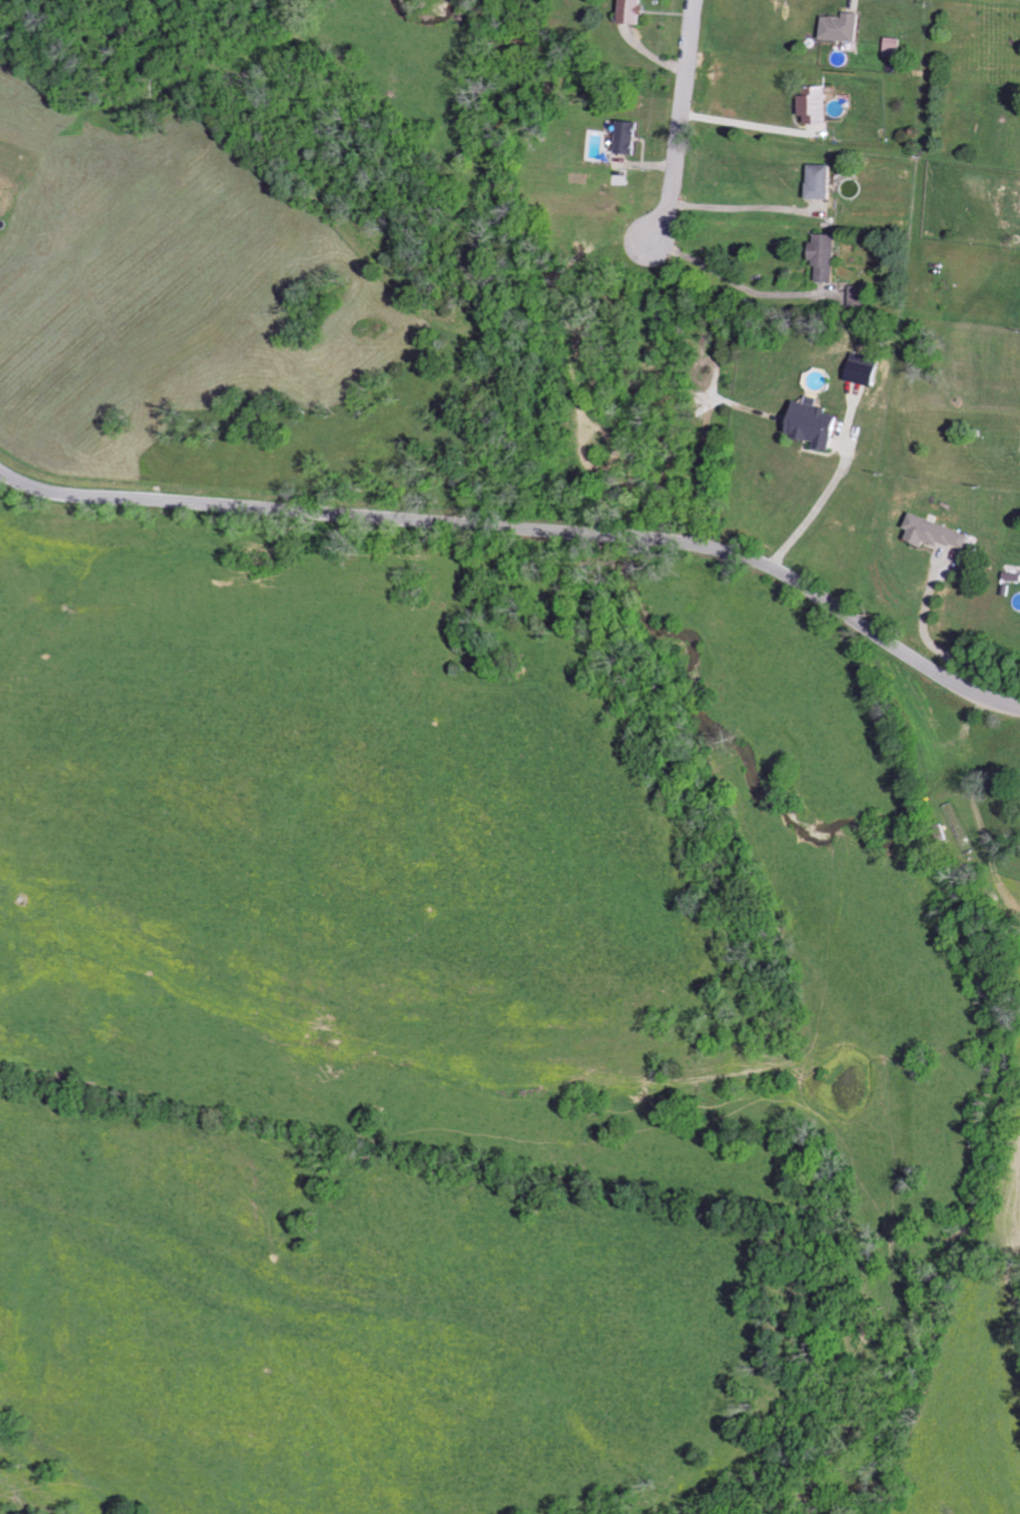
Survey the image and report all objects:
building: (636, 11)
building: (848, 27)
building: (820, 106)
road: (740, 121)
road: (682, 124)
building: (629, 137)
building: (824, 182)
building: (1, 201)
road: (737, 206)
building: (829, 258)
building: (861, 295)
building: (868, 370)
building: (818, 423)
road: (819, 506)
road: (527, 528)
building: (941, 533)
building: (1014, 576)
road: (925, 622)

